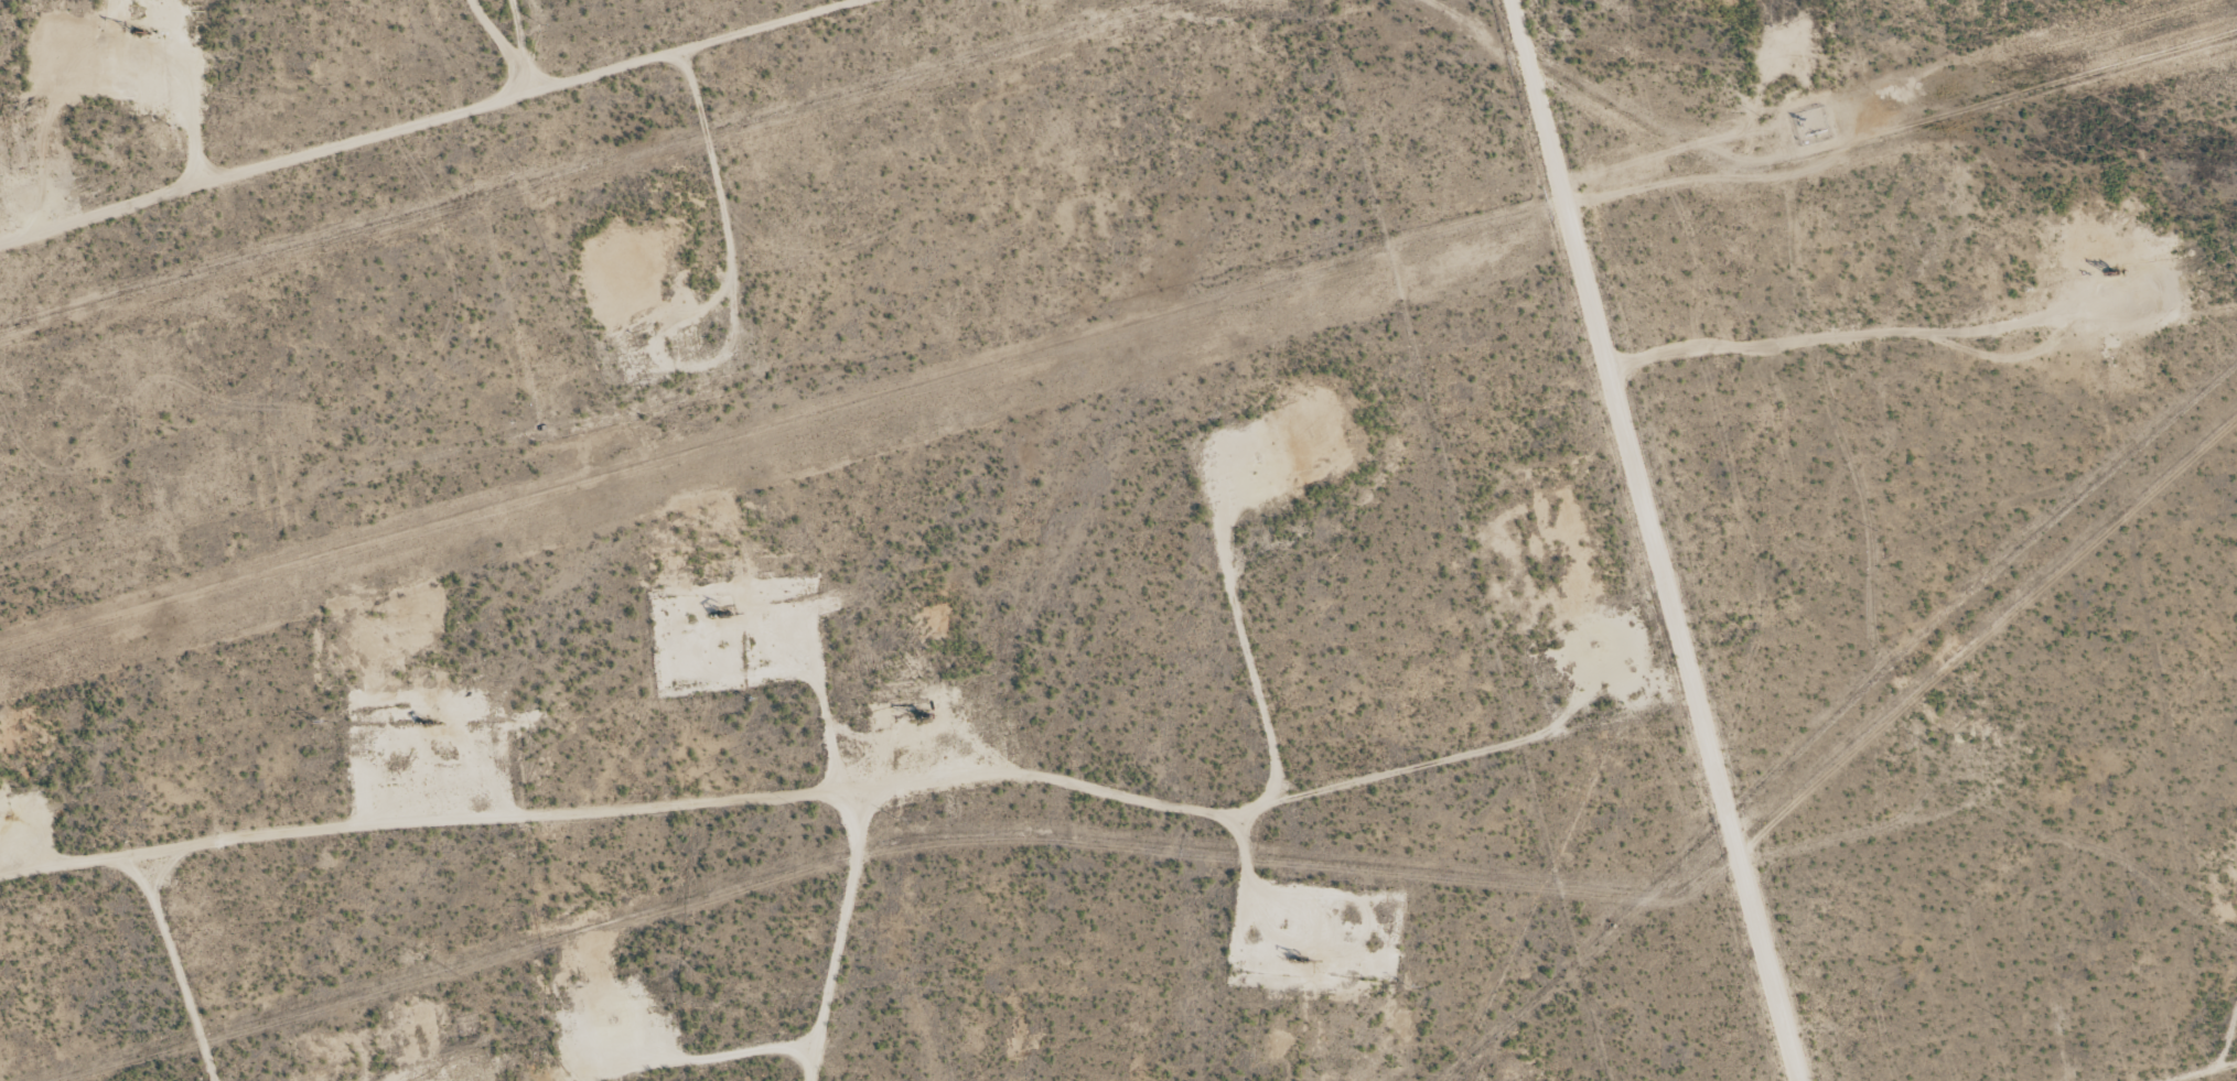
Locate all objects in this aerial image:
road: (1423, 540)

